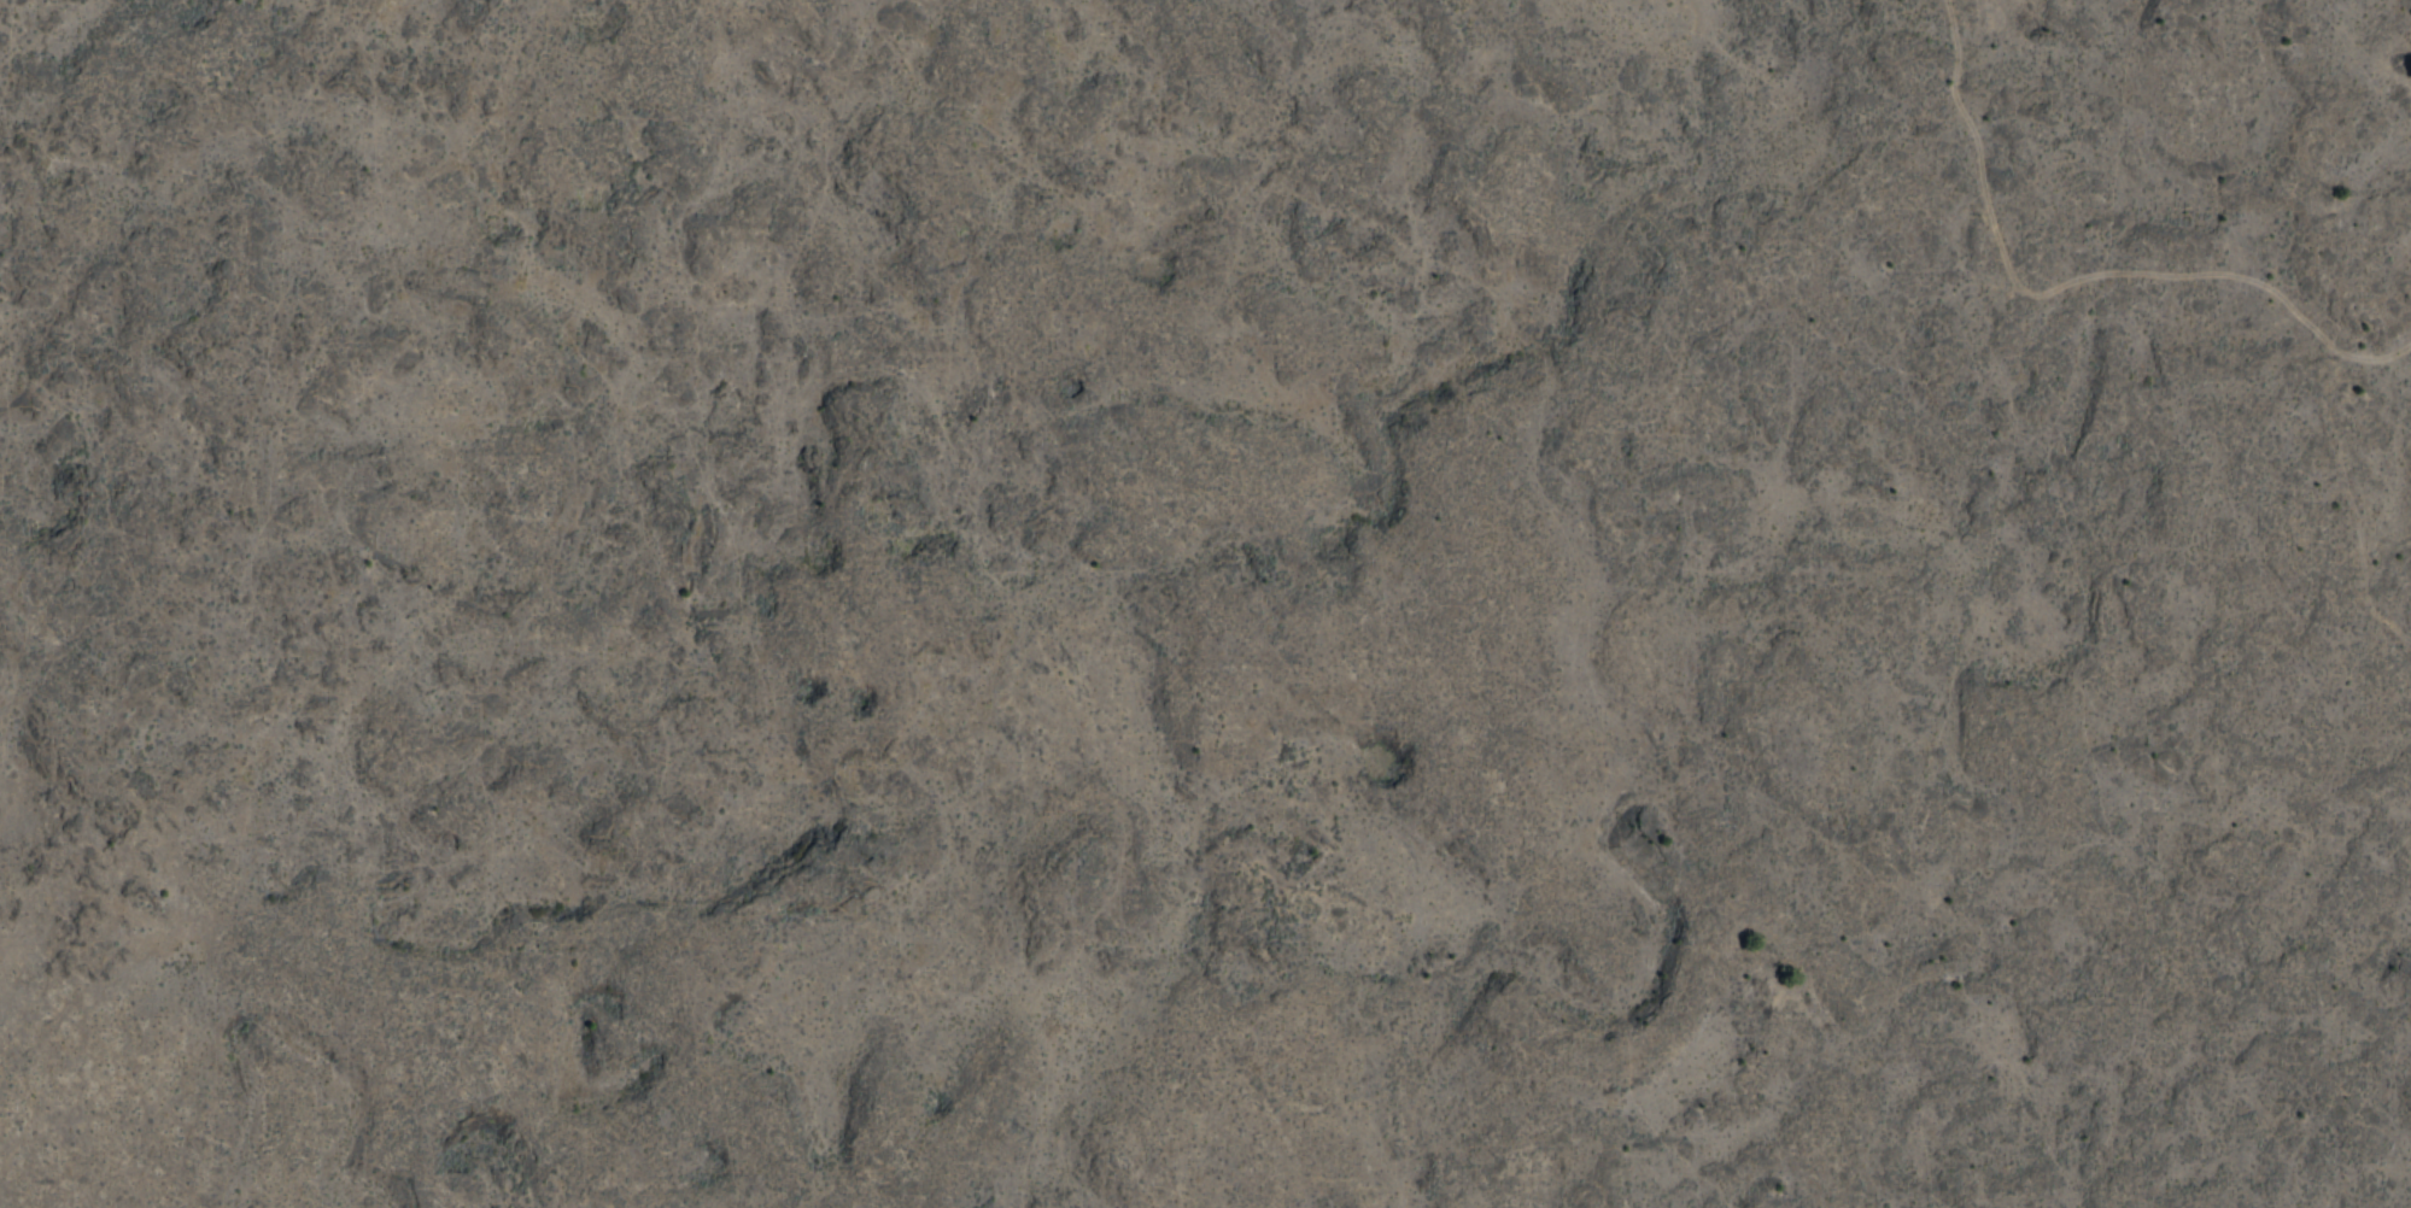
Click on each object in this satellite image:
road: (2195, 281)

